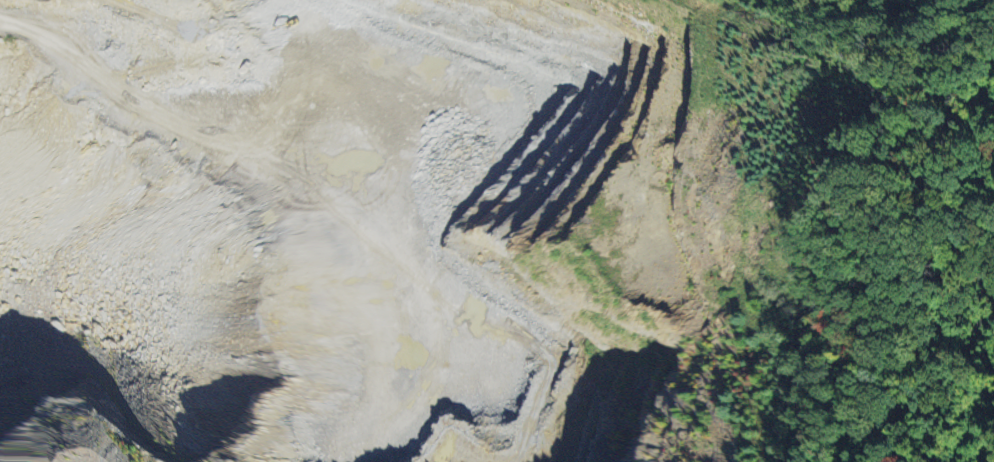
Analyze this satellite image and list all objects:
quarry: (407, 229)

